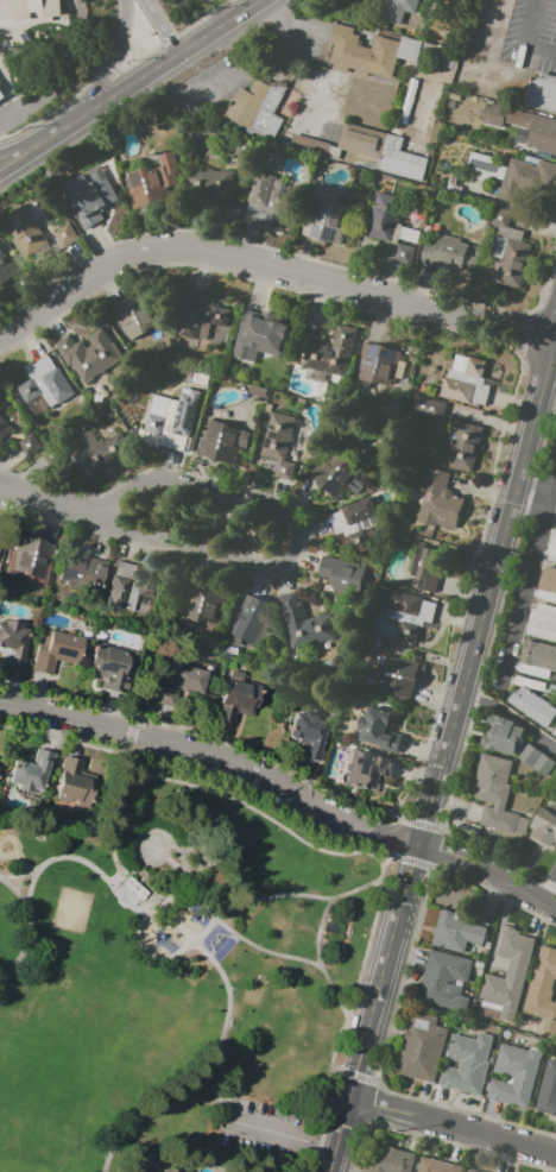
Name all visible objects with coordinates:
building: (397, 10)
building: (27, 11)
road: (163, 25)
parking lot: (531, 34)
building: (366, 38)
road: (525, 38)
building: (358, 50)
building: (444, 51)
road: (119, 56)
road: (141, 75)
road: (63, 78)
building: (2, 92)
building: (542, 93)
building: (255, 108)
building: (524, 125)
building: (371, 151)
road: (13, 152)
road: (13, 159)
building: (485, 166)
building: (526, 177)
building: (152, 182)
building: (217, 183)
building: (265, 196)
building: (87, 201)
building: (324, 221)
building: (388, 228)
building: (34, 237)
building: (508, 252)
building: (449, 253)
building: (10, 267)
road: (267, 269)
building: (201, 315)
building: (135, 316)
building: (315, 327)
building: (259, 335)
building: (44, 342)
building: (93, 353)
building: (328, 355)
building: (55, 359)
building: (377, 364)
building: (466, 380)
building: (45, 387)
building: (428, 408)
building: (175, 422)
building: (4, 428)
building: (223, 441)
building: (465, 443)
building: (30, 445)
building: (280, 446)
building: (101, 453)
building: (333, 473)
road: (536, 487)
road: (45, 497)
building: (438, 500)
road: (533, 510)
building: (354, 524)
road: (291, 534)
building: (552, 549)
building: (32, 556)
building: (424, 568)
building: (82, 569)
road: (527, 569)
building: (342, 574)
road: (491, 585)
building: (548, 585)
building: (131, 590)
building: (203, 601)
building: (409, 613)
building: (251, 620)
building: (542, 622)
building: (303, 625)
road: (149, 637)
building: (12, 642)
building: (56, 651)
building: (537, 659)
building: (108, 666)
building: (397, 678)
building: (181, 683)
building: (236, 698)
building: (533, 701)
building: (379, 730)
building: (554, 731)
building: (309, 732)
building: (501, 735)
road: (214, 756)
building: (537, 761)
building: (368, 770)
building: (31, 771)
building: (75, 782)
building: (495, 795)
road: (144, 811)
building: (544, 828)
road: (487, 872)
road: (546, 886)
building: (134, 887)
road: (15, 891)
road: (188, 894)
road: (245, 903)
road: (30, 922)
building: (456, 932)
road: (190, 933)
building: (487, 945)
road: (385, 956)
building: (479, 964)
building: (508, 973)
park: (179, 978)
building: (444, 981)
building: (542, 990)
building: (412, 1047)
building: (467, 1063)
building: (511, 1077)
building: (548, 1089)
road: (345, 1110)
road: (126, 1117)
road: (451, 1124)
parking lot: (266, 1136)
road: (284, 1139)
road: (434, 1139)
building: (392, 1160)
road: (331, 1162)
building: (437, 1166)
building: (169, 1170)
building: (150, 1171)
building: (368, 1171)
building: (473, 1171)

